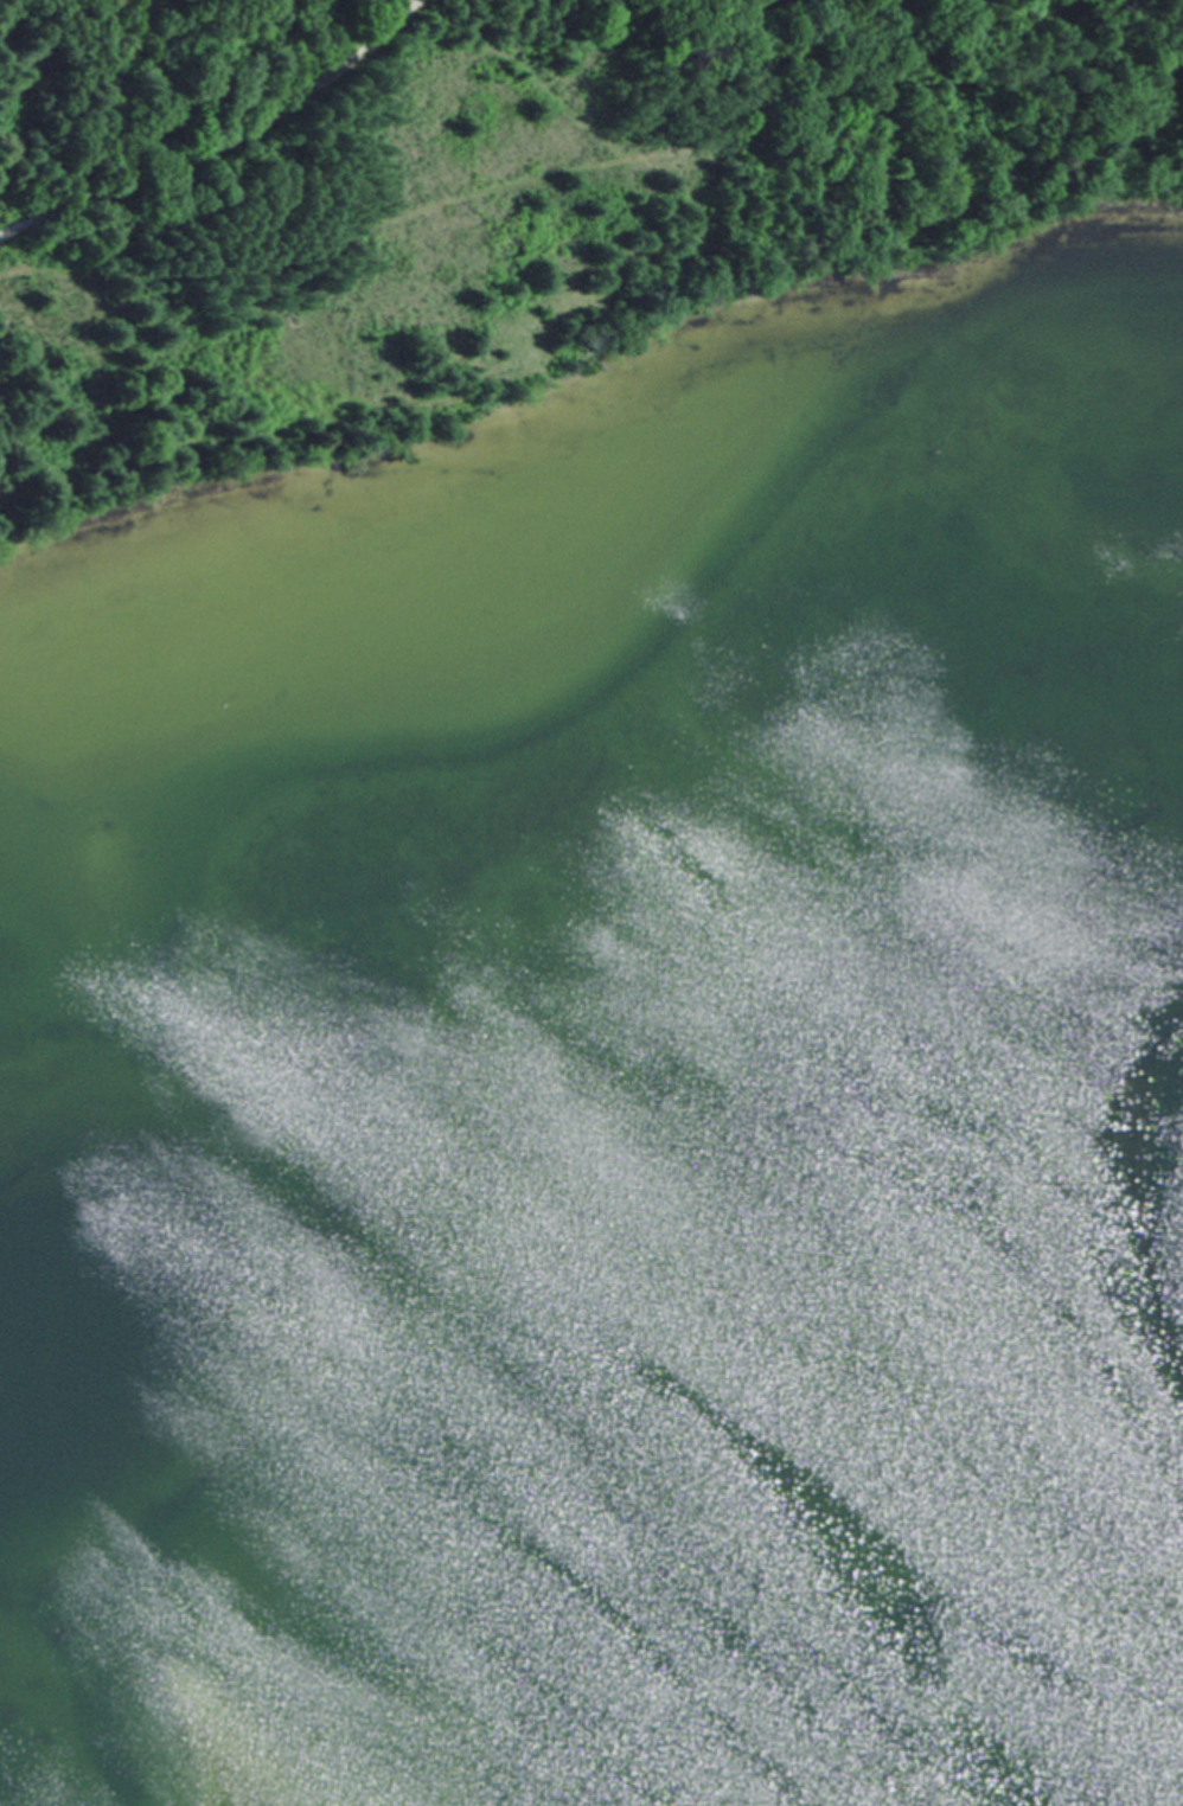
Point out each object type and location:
road: (814, 87)
road: (228, 146)

